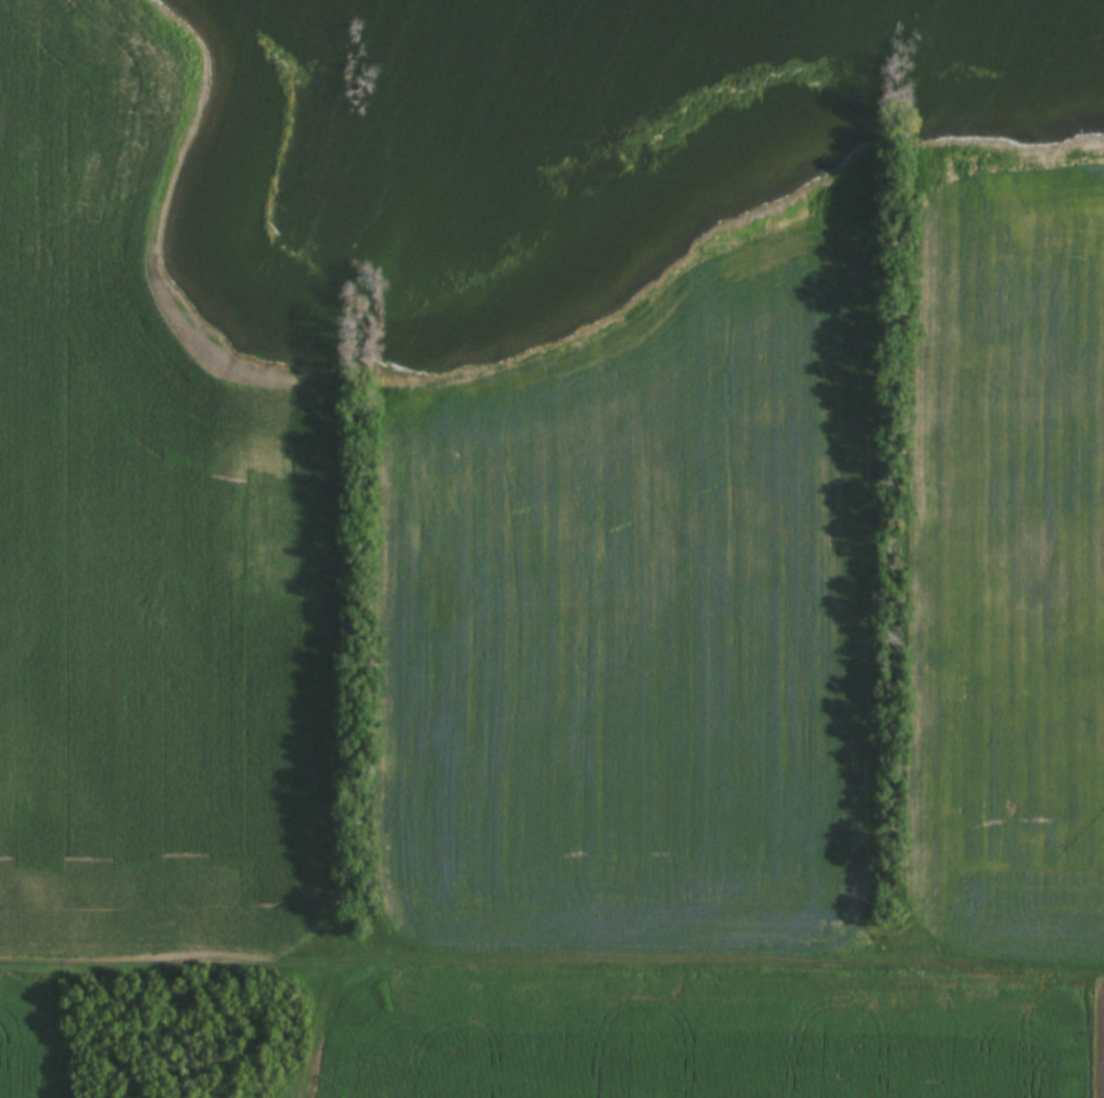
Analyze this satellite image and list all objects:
road: (551, 963)

